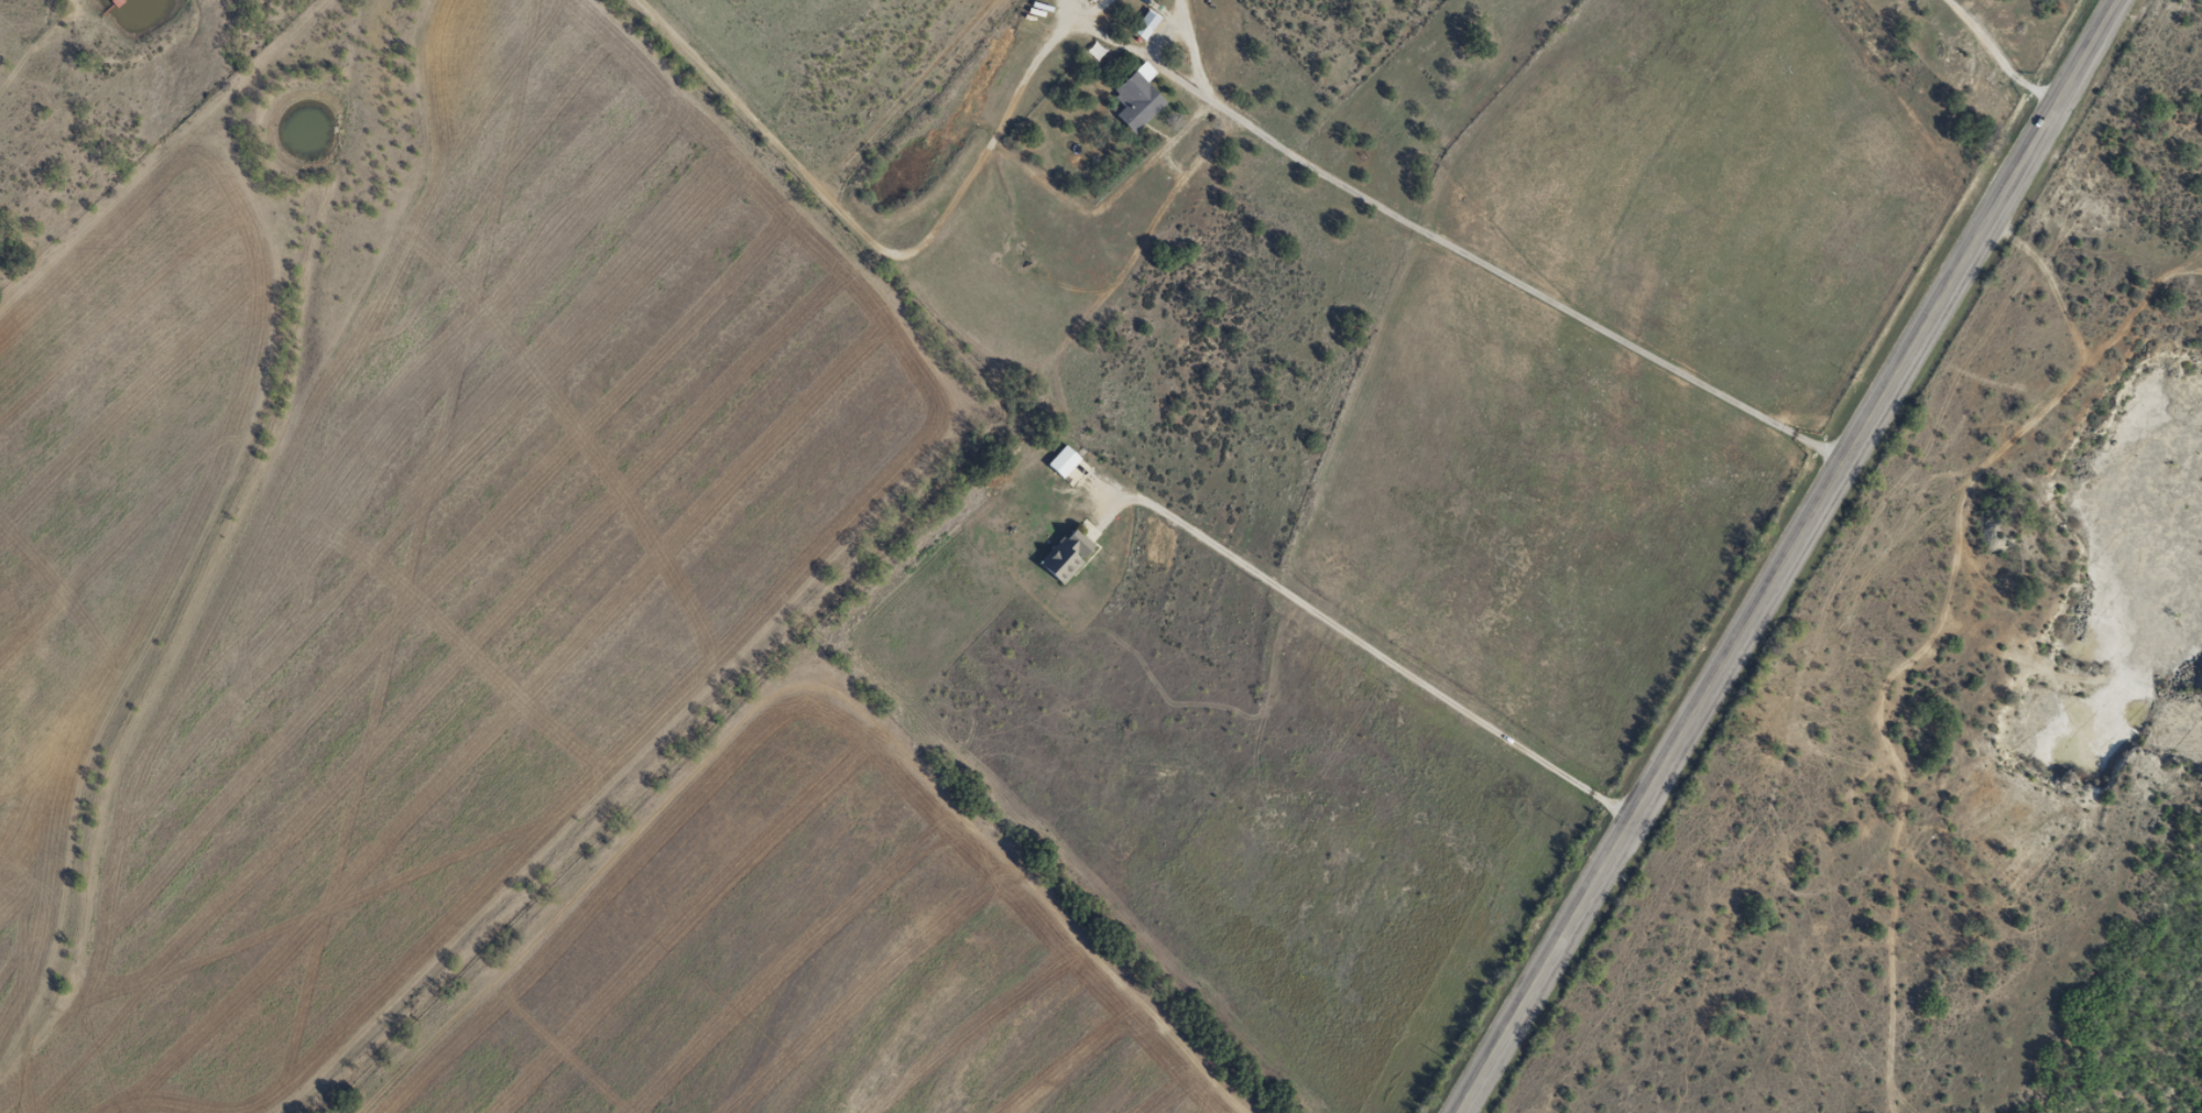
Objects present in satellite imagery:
building: (1091, 0)
building: (1145, 23)
building: (1136, 100)
road: (1878, 175)
building: (1062, 460)
building: (1066, 552)
crop: (393, 554)
road: (1784, 556)
road: (1709, 842)
crop: (809, 961)

